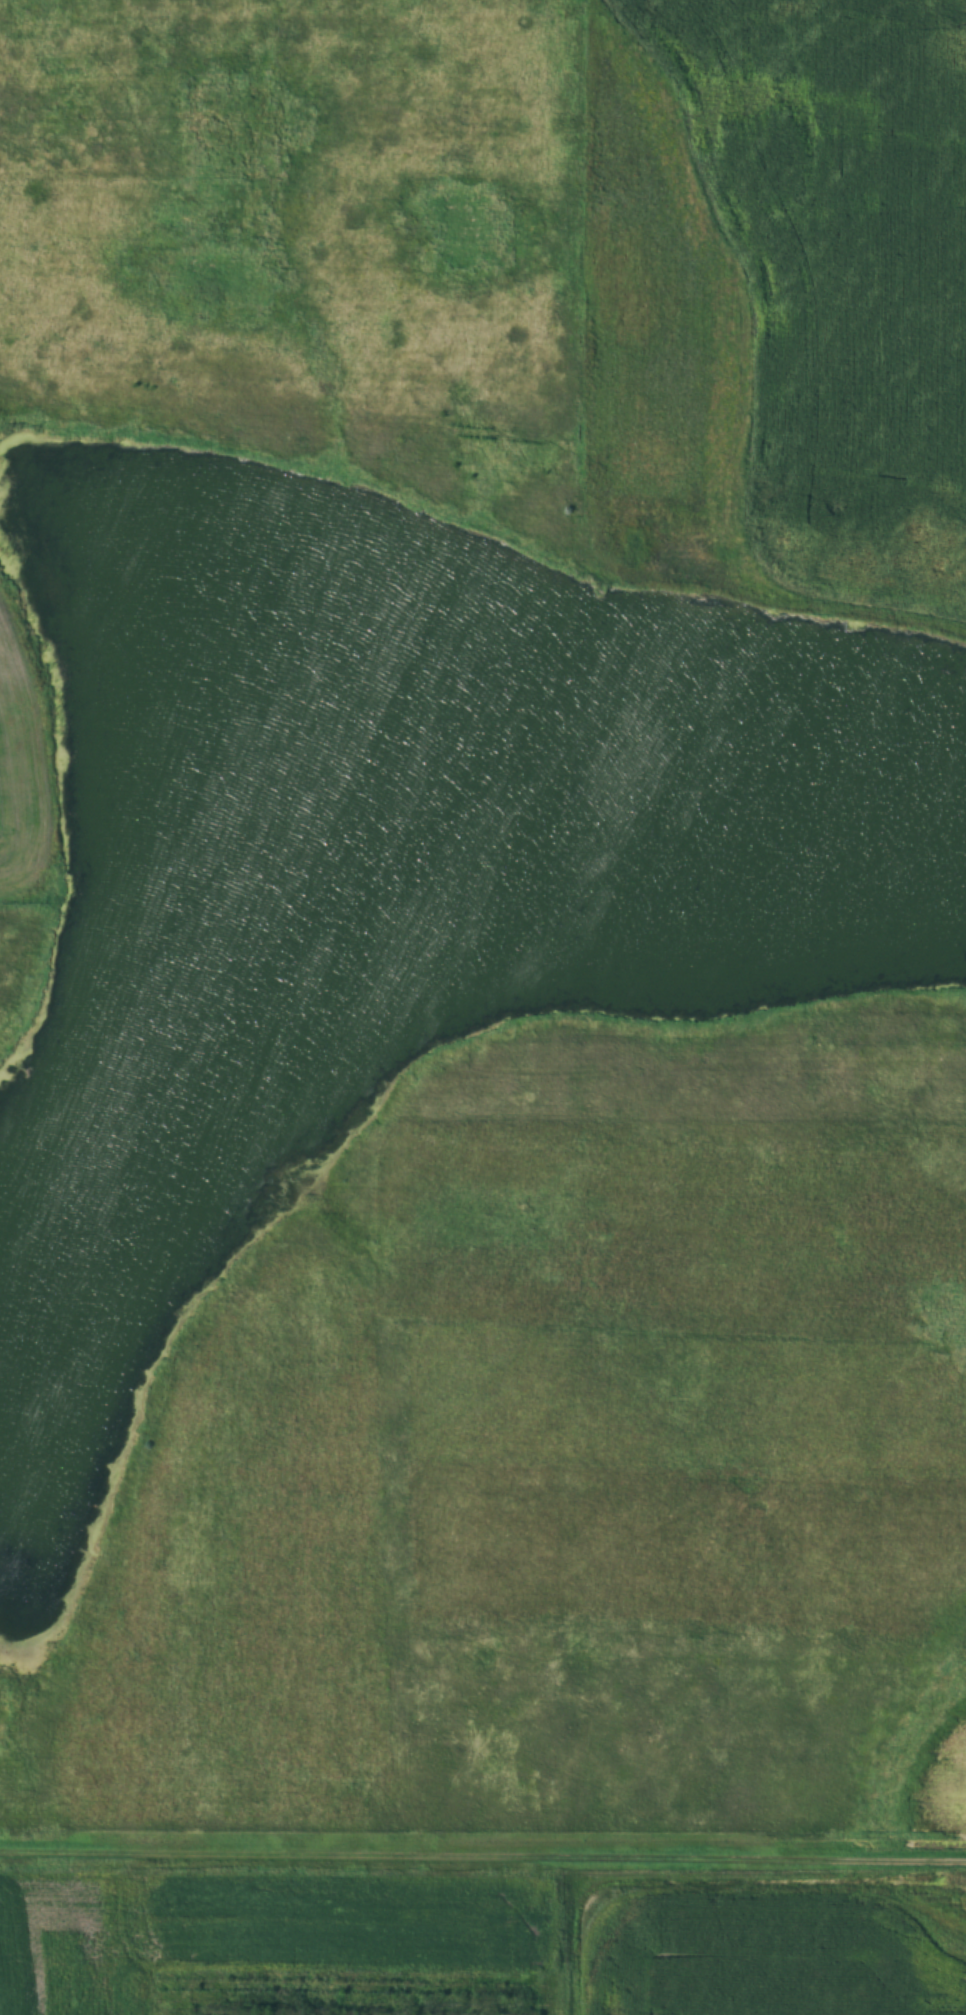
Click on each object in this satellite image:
road: (483, 1868)

